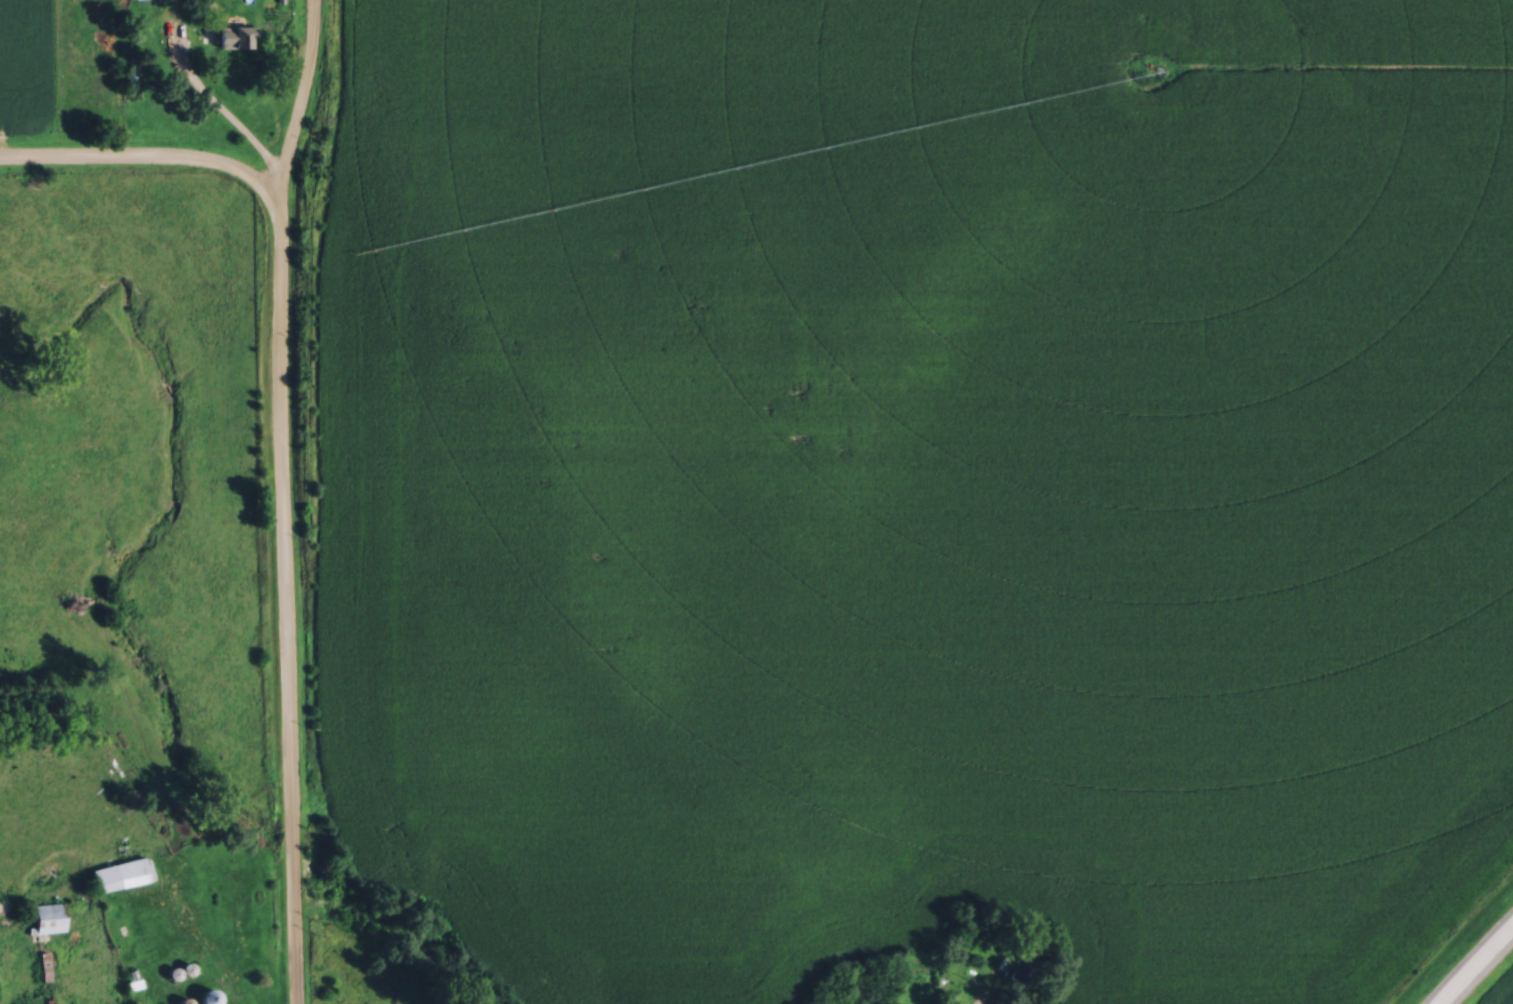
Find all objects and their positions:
building: (233, 34)
road: (307, 90)
road: (206, 94)
road: (140, 159)
road: (276, 185)
road: (288, 596)
building: (119, 872)
building: (47, 915)
building: (1012, 966)
road: (1478, 967)
building: (206, 994)

